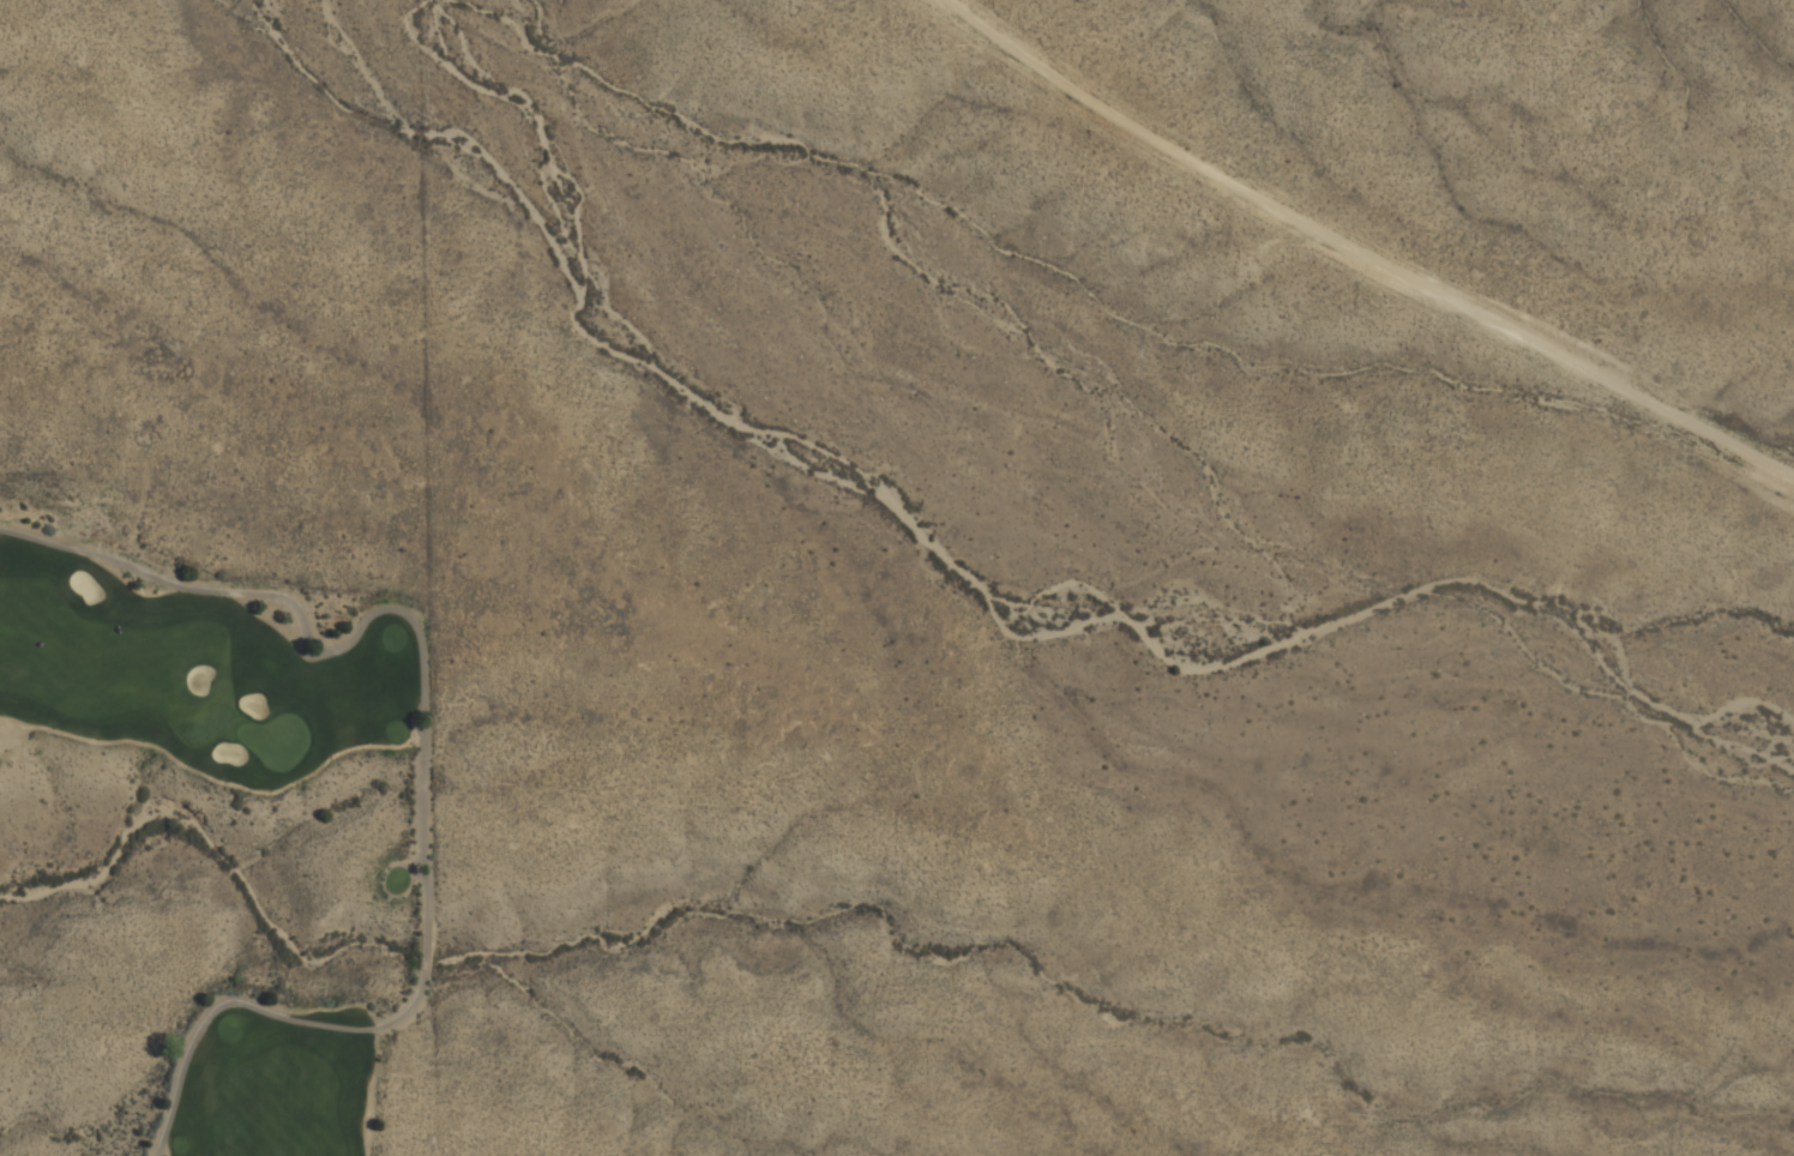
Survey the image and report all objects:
road: (1361, 252)
road: (419, 759)
park: (221, 848)

